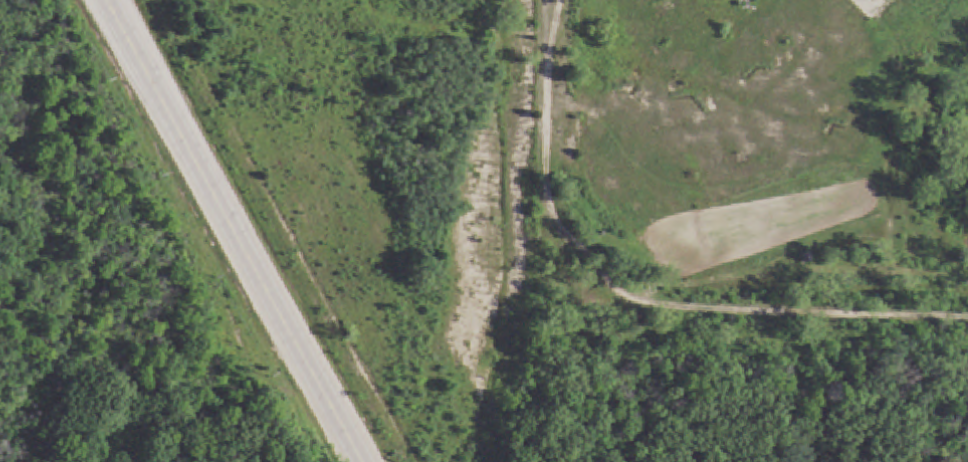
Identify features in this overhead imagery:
road: (238, 231)

